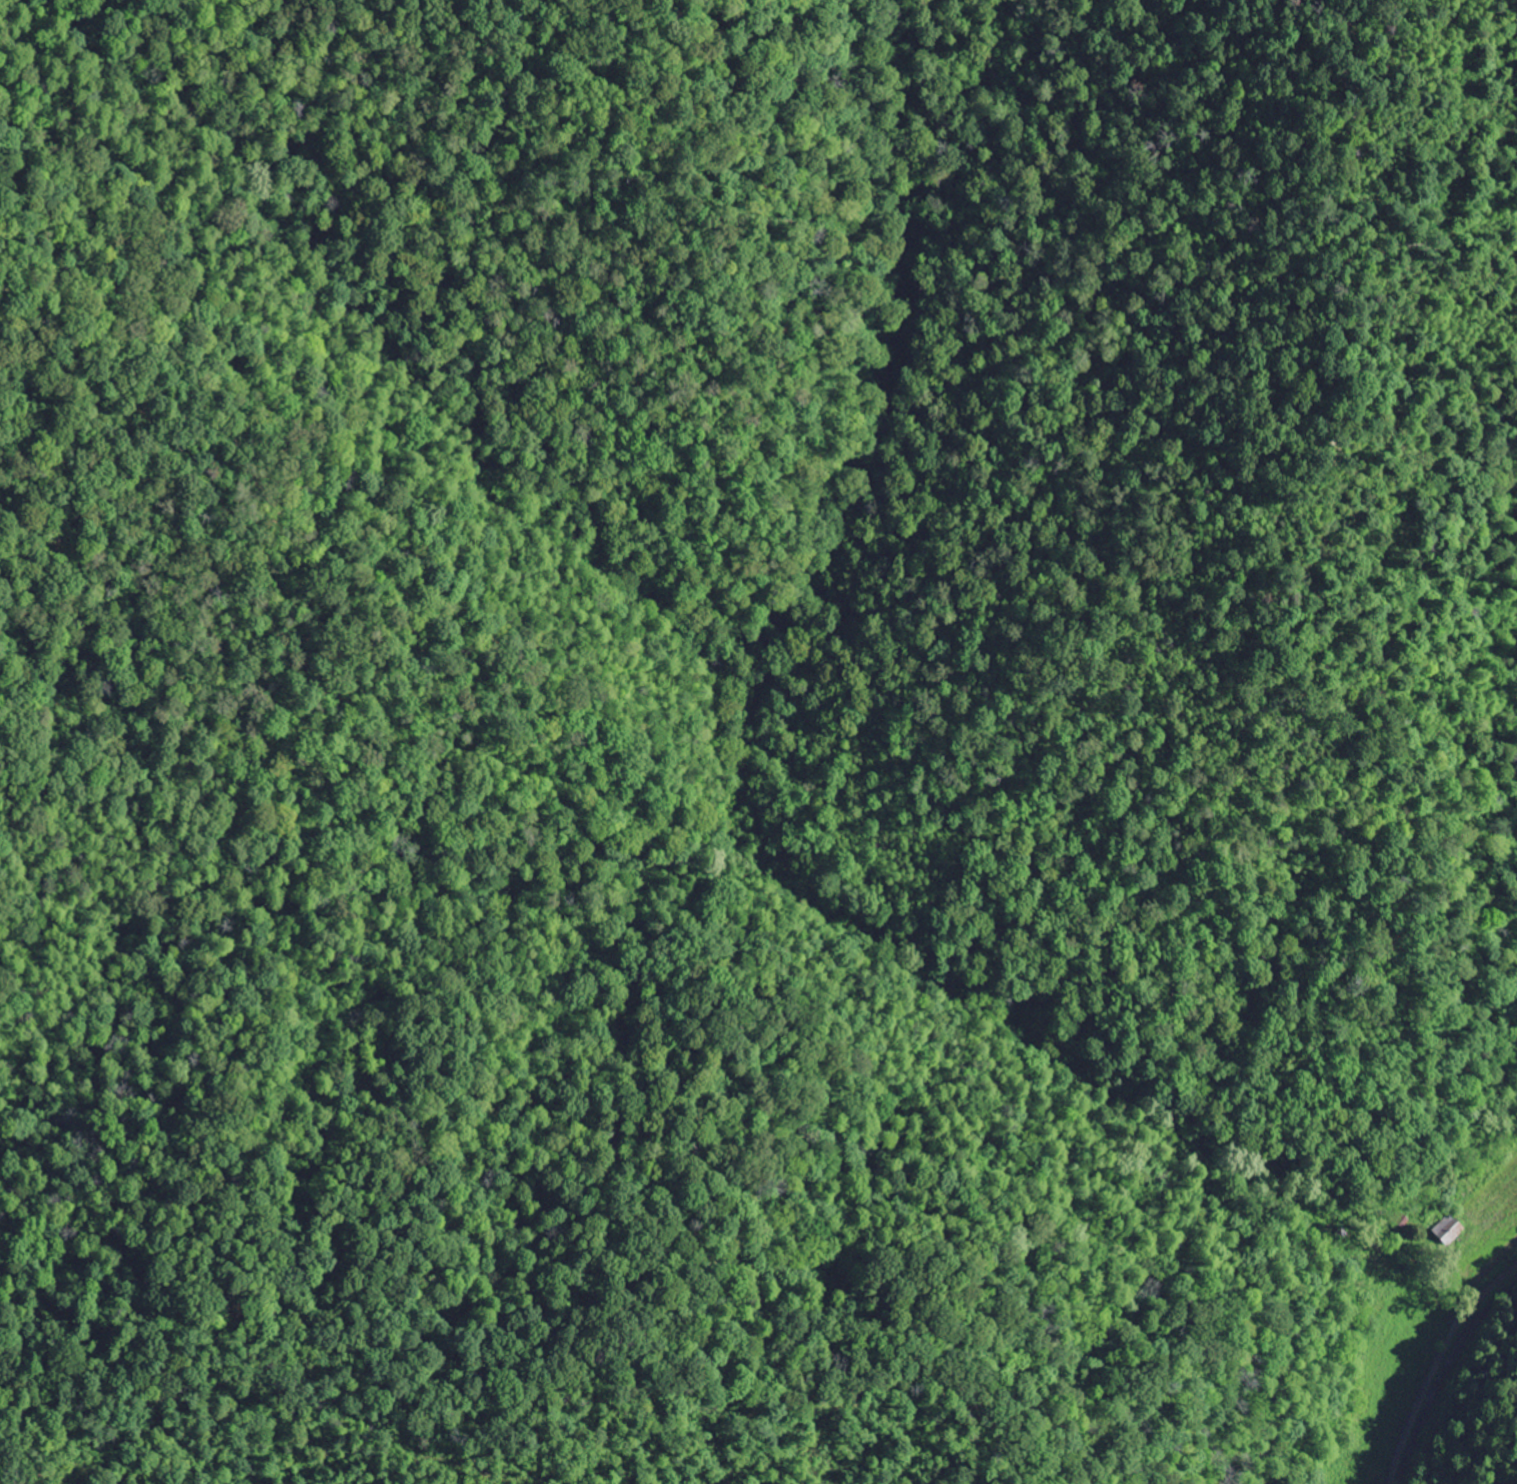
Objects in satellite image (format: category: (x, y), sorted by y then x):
road: (1438, 1364)

